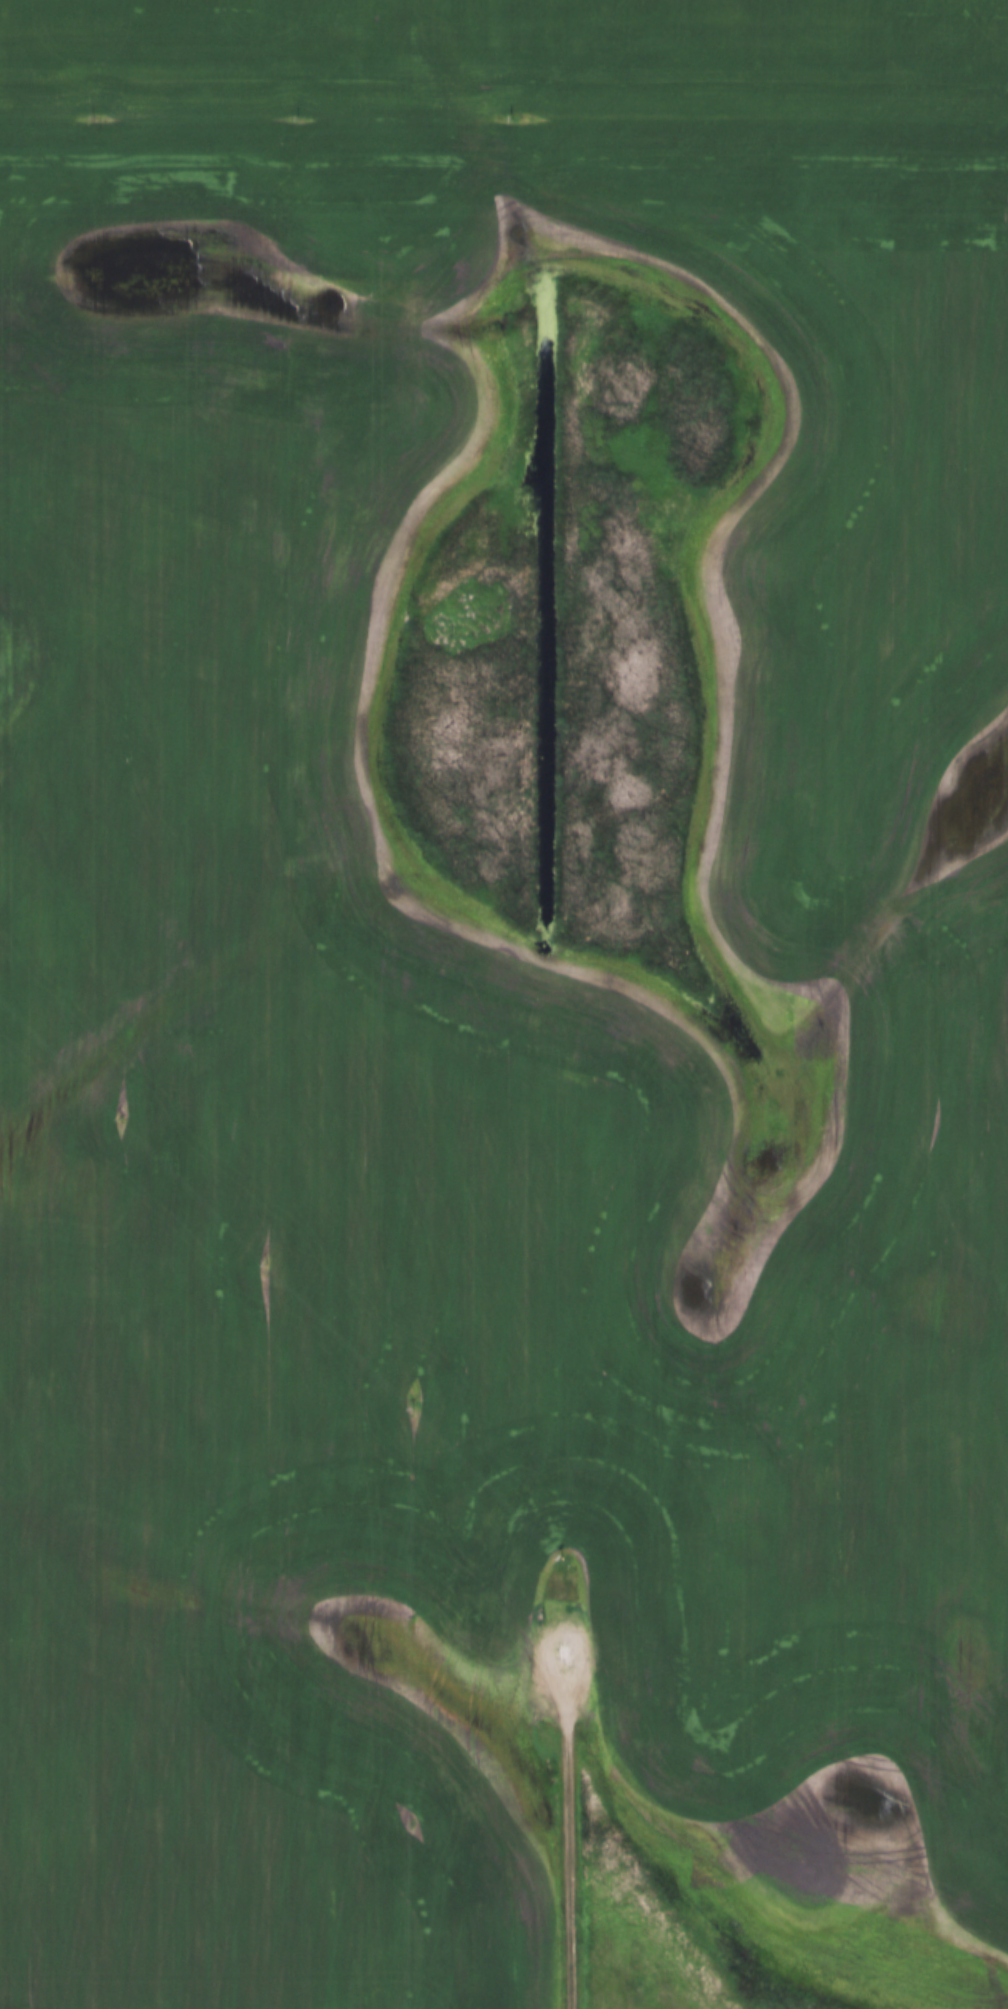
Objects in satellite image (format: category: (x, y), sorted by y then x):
road: (570, 1829)

